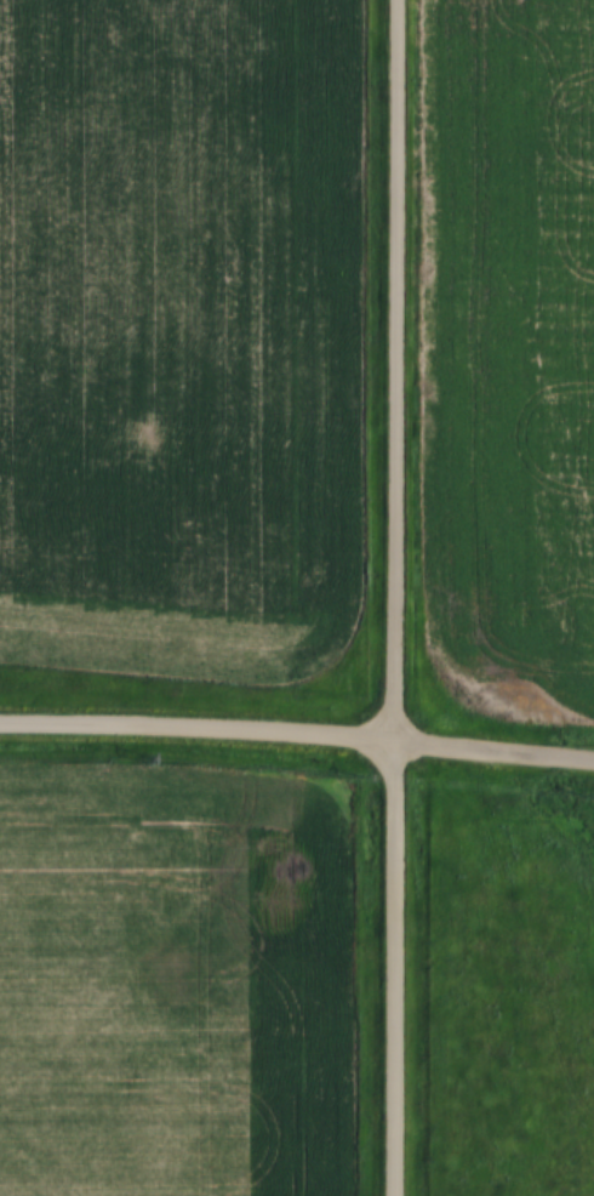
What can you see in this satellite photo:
road: (395, 598)
road: (297, 741)

